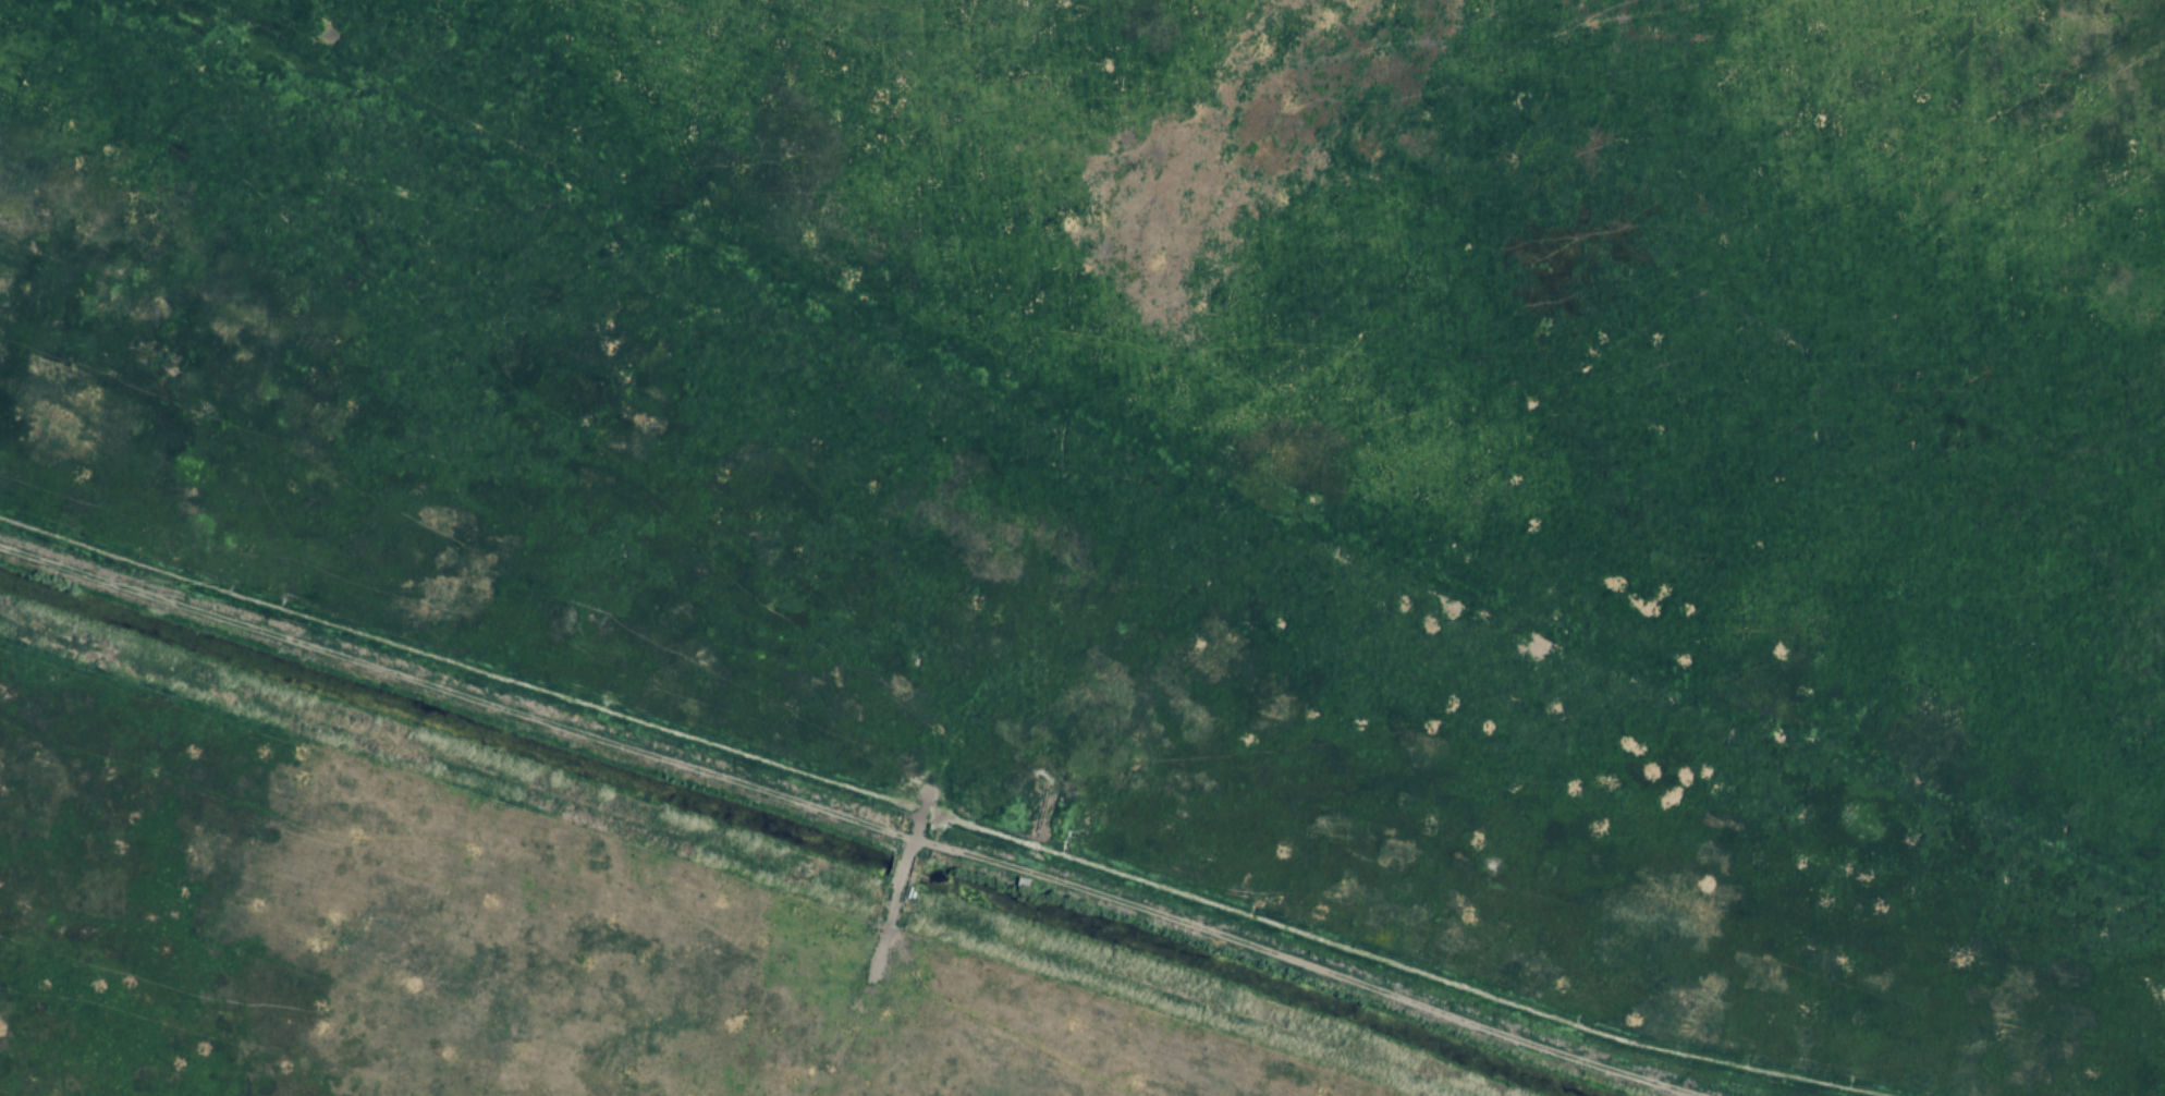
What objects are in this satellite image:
road: (829, 839)

